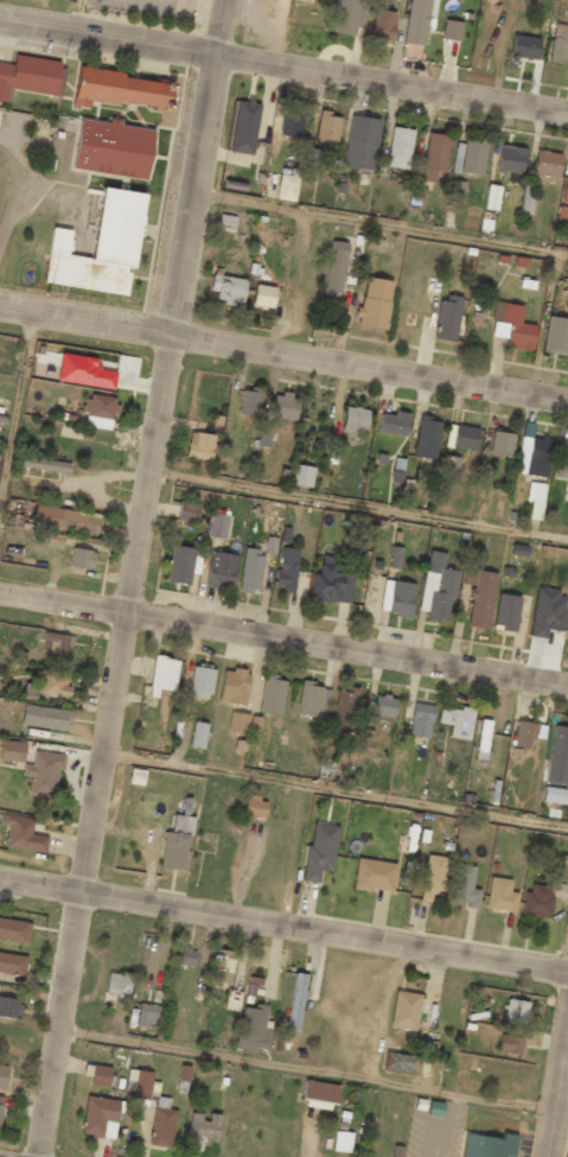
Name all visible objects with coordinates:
building: (347, 15)
road: (78, 17)
building: (415, 21)
building: (382, 25)
building: (451, 30)
building: (559, 44)
building: (523, 46)
road: (283, 66)
building: (31, 77)
building: (121, 90)
building: (291, 121)
building: (327, 126)
building: (245, 132)
building: (360, 142)
building: (398, 147)
building: (114, 150)
building: (434, 154)
building: (468, 157)
building: (309, 158)
building: (510, 158)
building: (547, 163)
building: (286, 187)
building: (455, 191)
building: (564, 191)
building: (225, 223)
road: (381, 223)
building: (100, 249)
building: (336, 267)
building: (228, 288)
power tower: (49, 292)
building: (263, 295)
building: (374, 303)
building: (447, 317)
building: (511, 326)
building: (556, 336)
power tower: (309, 338)
road: (283, 355)
building: (84, 371)
building: (249, 401)
building: (283, 407)
building: (100, 411)
road: (17, 421)
building: (353, 421)
building: (393, 422)
building: (263, 436)
building: (461, 437)
building: (426, 438)
building: (500, 444)
building: (199, 445)
building: (534, 456)
building: (562, 460)
building: (44, 464)
building: (448, 466)
building: (301, 476)
building: (535, 491)
road: (358, 506)
building: (189, 511)
building: (65, 519)
building: (217, 525)
building: (269, 545)
building: (352, 546)
building: (395, 557)
building: (81, 558)
building: (179, 565)
building: (286, 568)
building: (250, 570)
building: (221, 571)
road: (130, 578)
building: (330, 585)
building: (438, 587)
building: (479, 596)
building: (396, 598)
building: (547, 612)
road: (283, 637)
building: (56, 643)
building: (164, 674)
building: (202, 681)
building: (49, 686)
building: (234, 686)
building: (272, 694)
building: (312, 699)
building: (345, 706)
building: (45, 717)
building: (420, 720)
building: (455, 720)
building: (237, 723)
building: (523, 733)
building: (198, 735)
building: (11, 750)
building: (557, 756)
building: (43, 774)
road: (336, 789)
building: (554, 795)
building: (255, 806)
building: (23, 834)
building: (175, 844)
building: (320, 851)
building: (374, 875)
building: (433, 876)
building: (464, 885)
building: (499, 895)
building: (536, 902)
road: (283, 926)
building: (14, 930)
building: (185, 956)
building: (12, 964)
building: (221, 966)
building: (117, 984)
building: (9, 1007)
building: (403, 1010)
building: (513, 1011)
building: (145, 1013)
building: (253, 1029)
building: (510, 1044)
building: (400, 1063)
road: (312, 1070)
building: (2, 1075)
building: (100, 1075)
road: (557, 1094)
building: (319, 1095)
building: (0, 1105)
building: (160, 1107)
building: (100, 1117)
building: (203, 1127)
building: (342, 1142)
building: (489, 1146)

